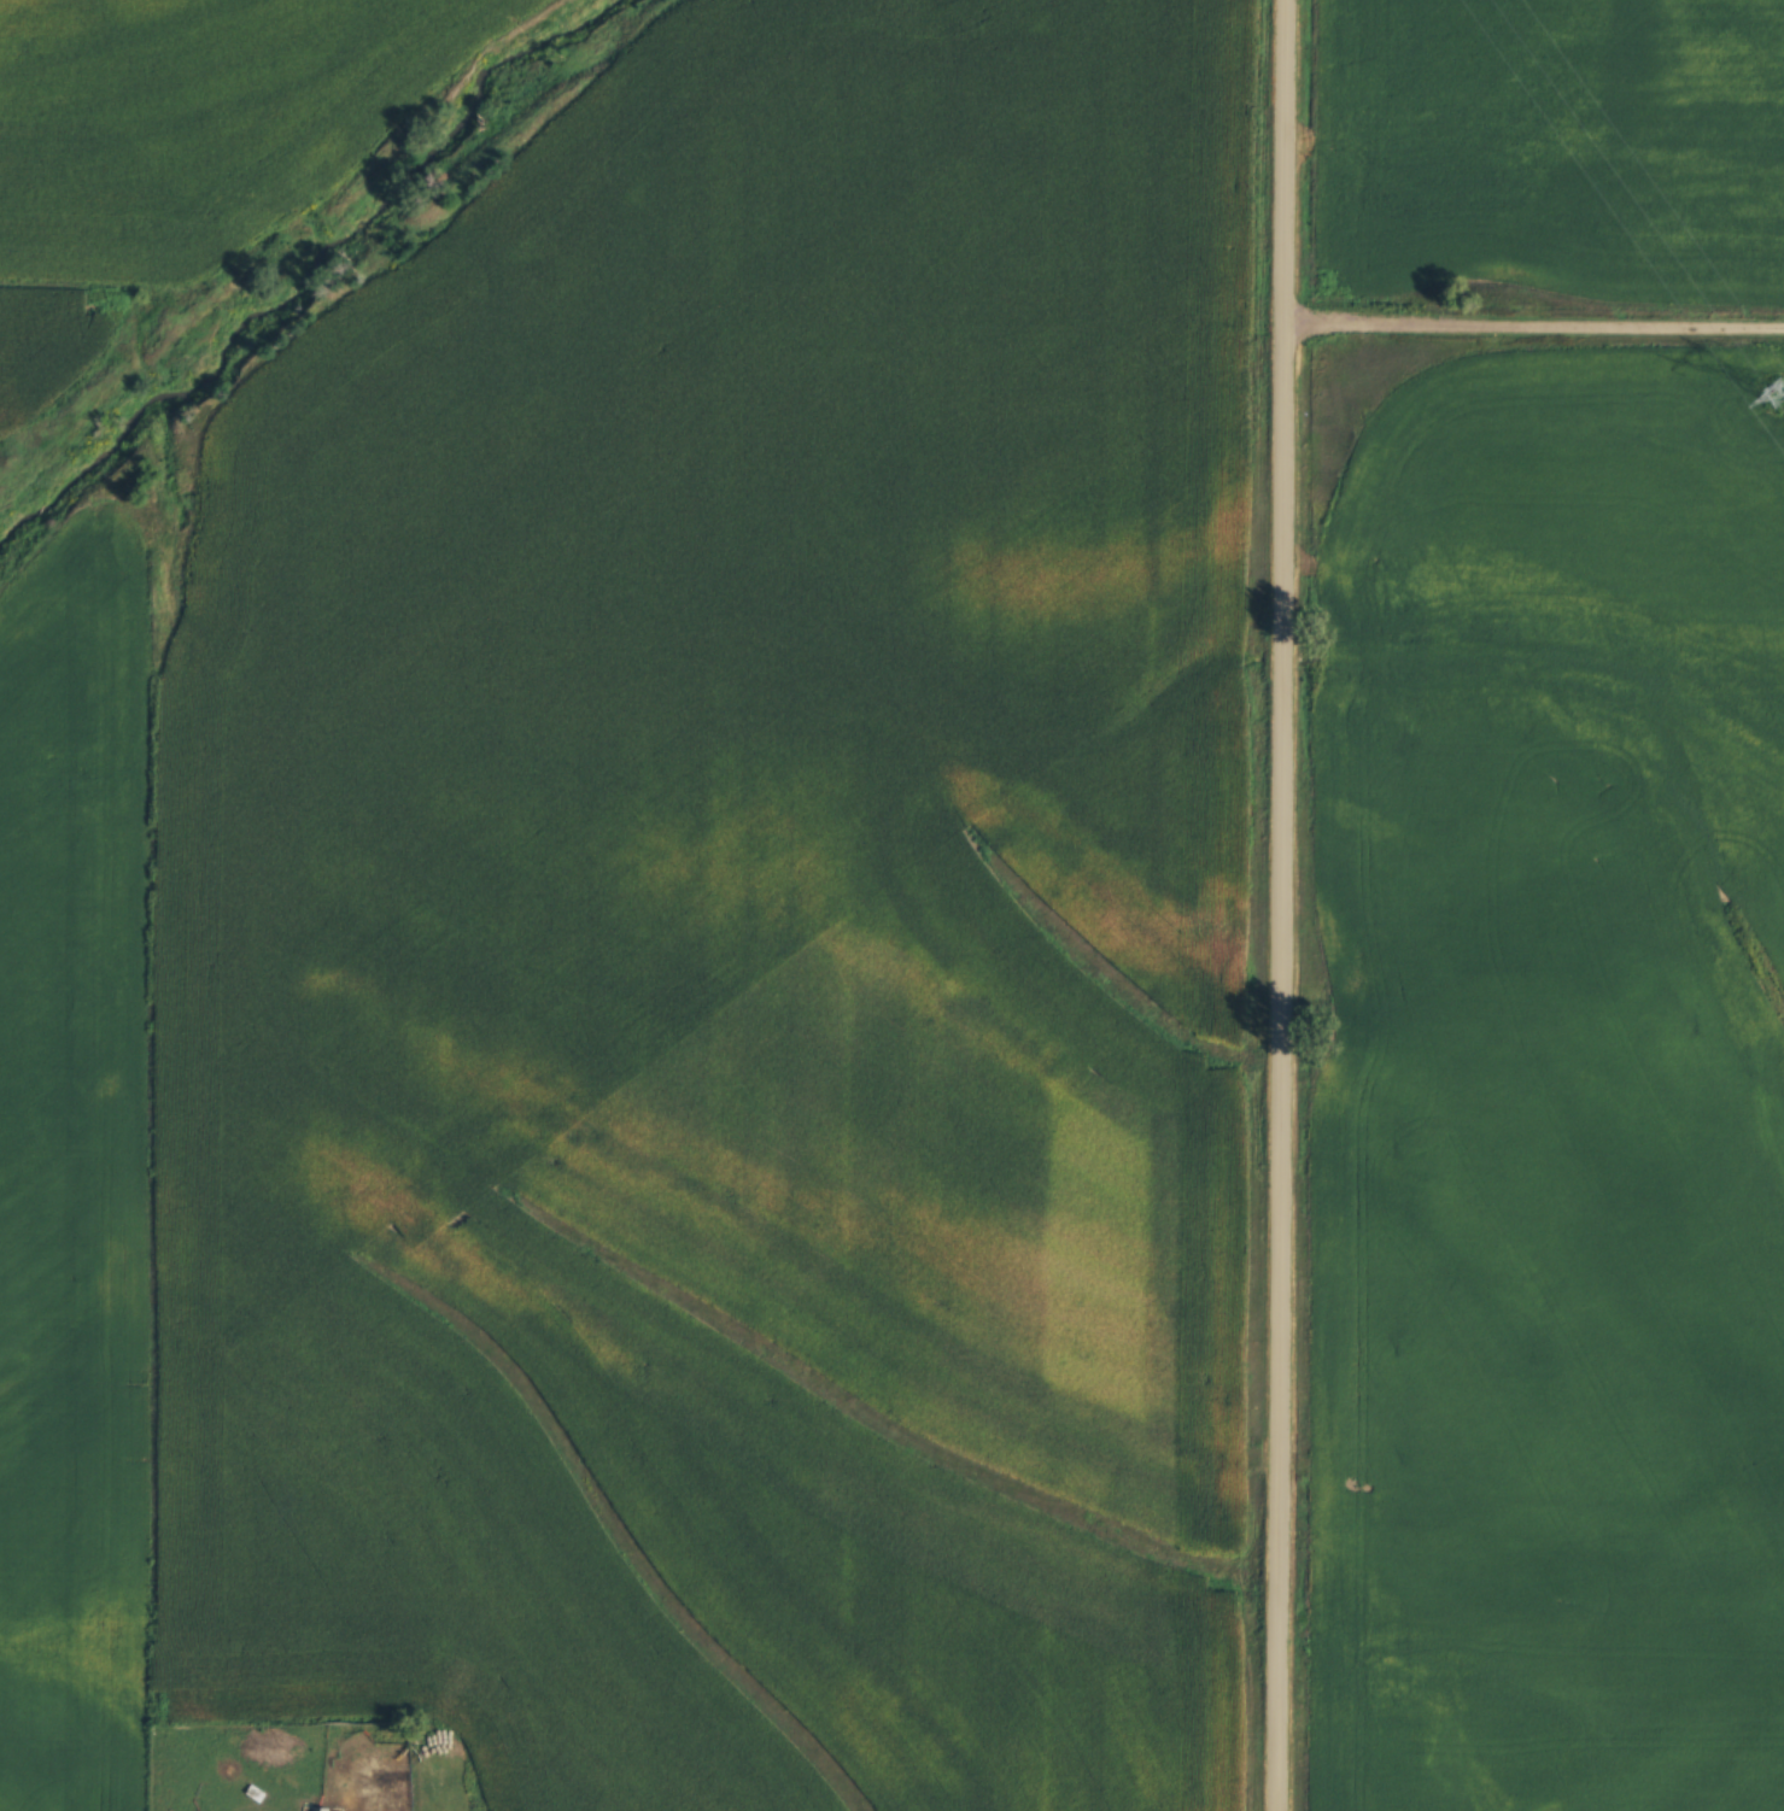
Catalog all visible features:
road: (1531, 323)
power tower: (1783, 400)
road: (1276, 904)

